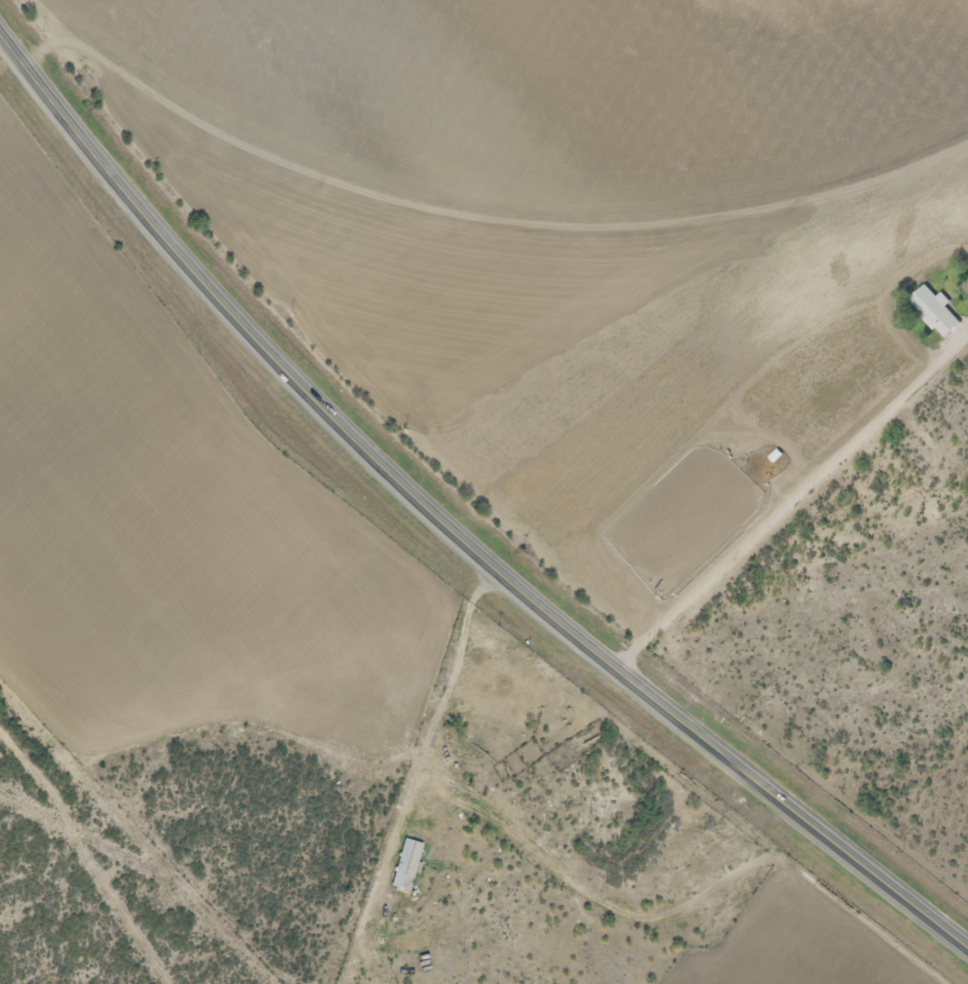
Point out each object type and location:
building: (934, 312)
railway: (470, 487)
road: (447, 528)
road: (87, 848)
building: (404, 866)

